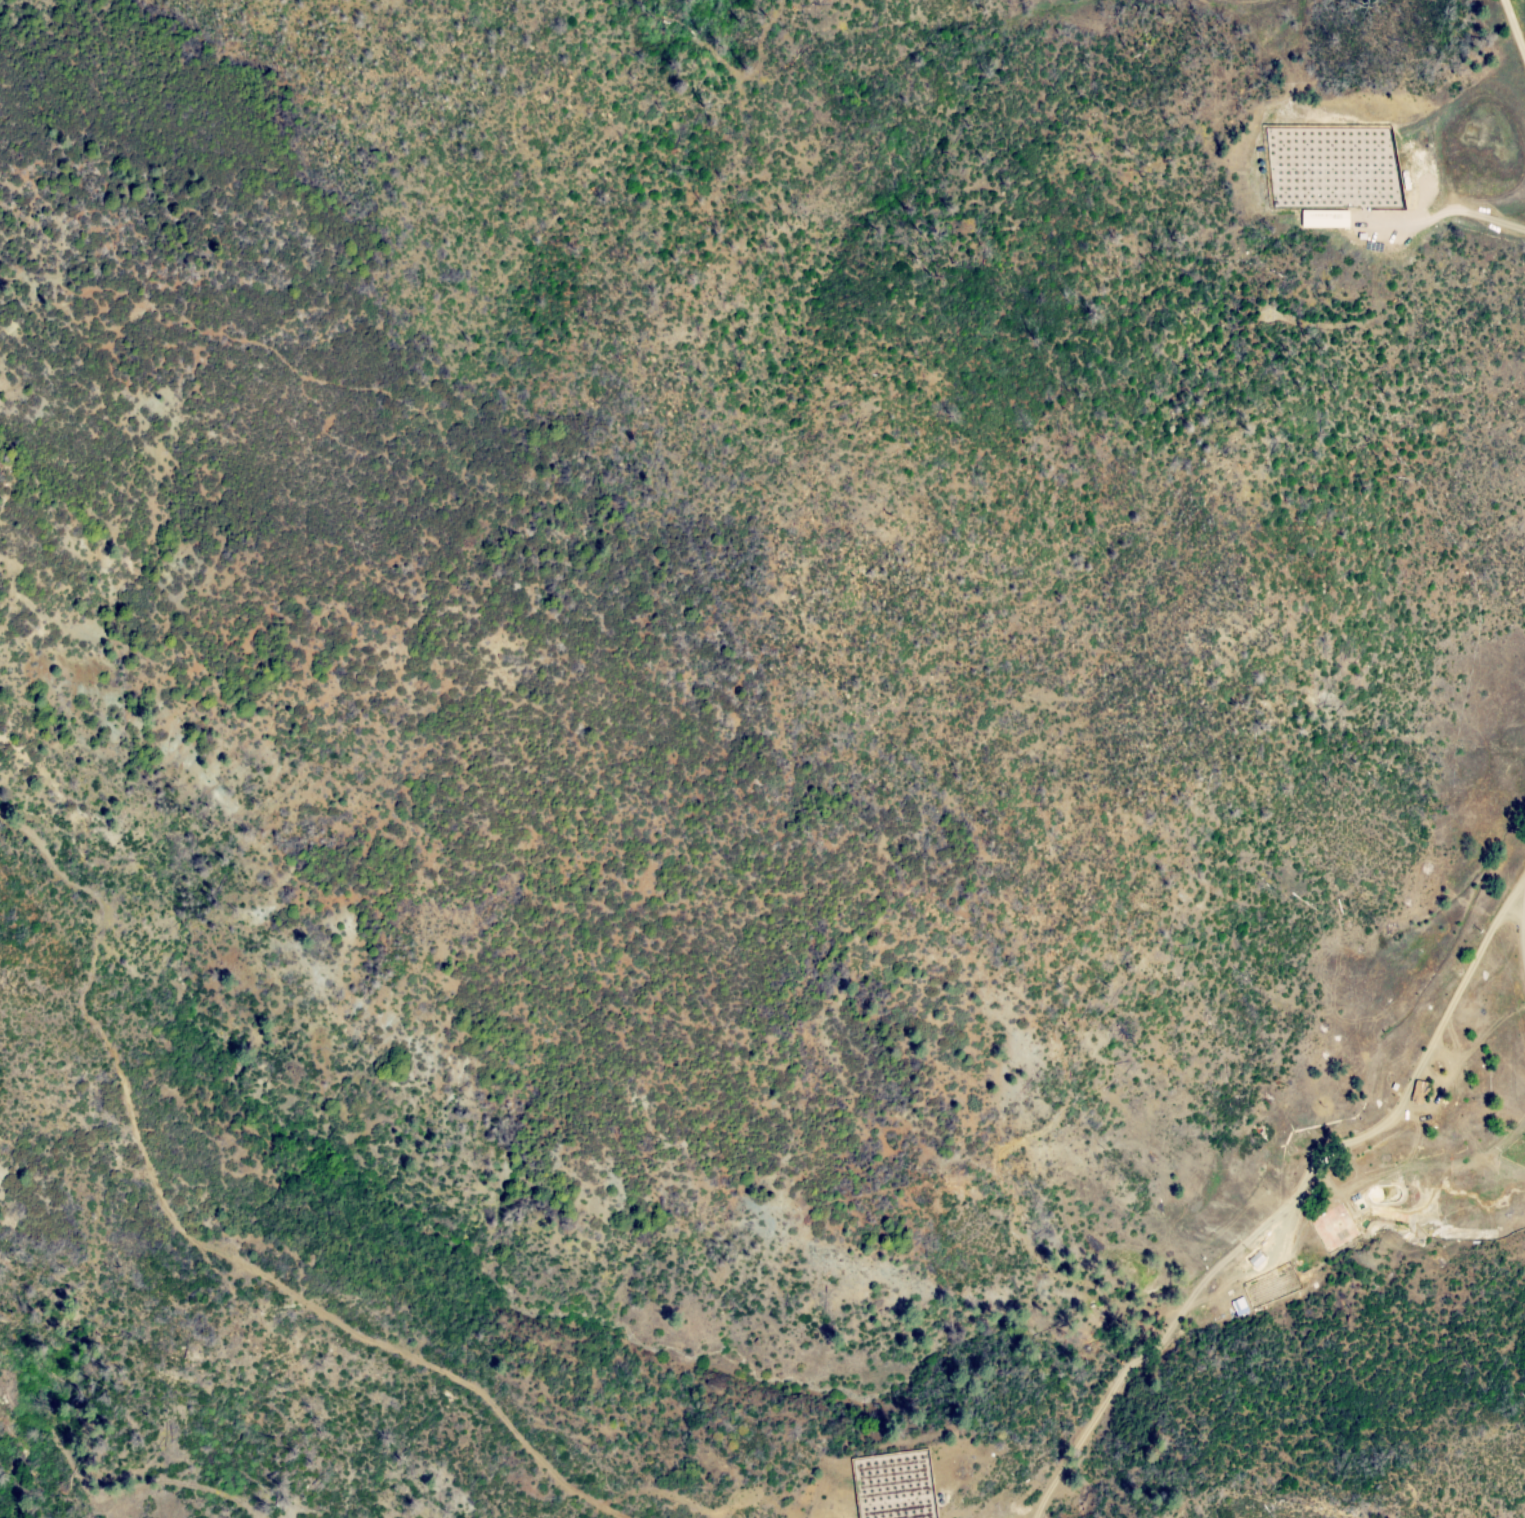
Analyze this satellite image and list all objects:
road: (1515, 28)
building: (1325, 218)
building: (1385, 1068)
building: (1381, 1090)
building: (1420, 1092)
building: (1368, 1118)
road: (1466, 1137)
building: (1299, 1142)
building: (1514, 1202)
building: (1472, 1205)
road: (1283, 1206)
building: (1363, 1222)
road: (1291, 1233)
building: (1341, 1236)
road: (203, 1242)
building: (1311, 1282)
building: (1289, 1292)
building: (1258, 1303)
building: (1231, 1314)

